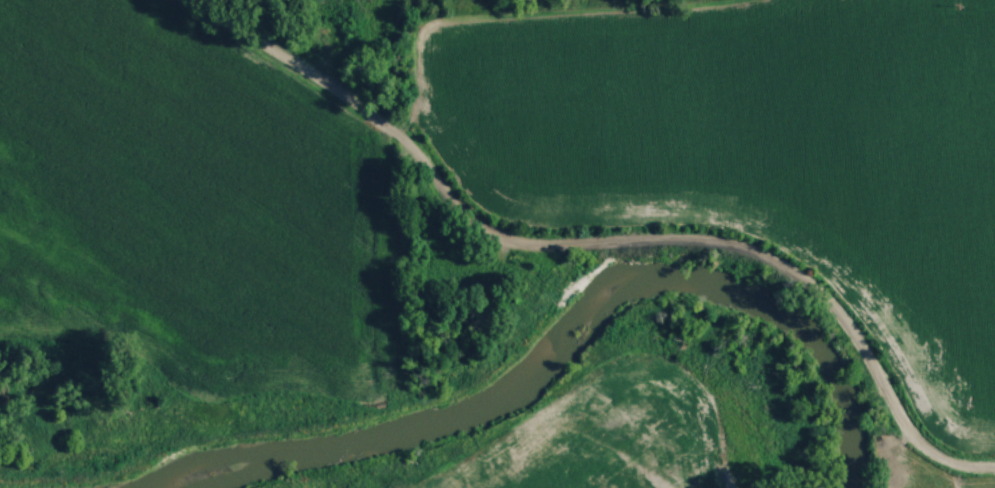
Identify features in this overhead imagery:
road: (522, 20)
road: (596, 250)
river: (563, 323)

